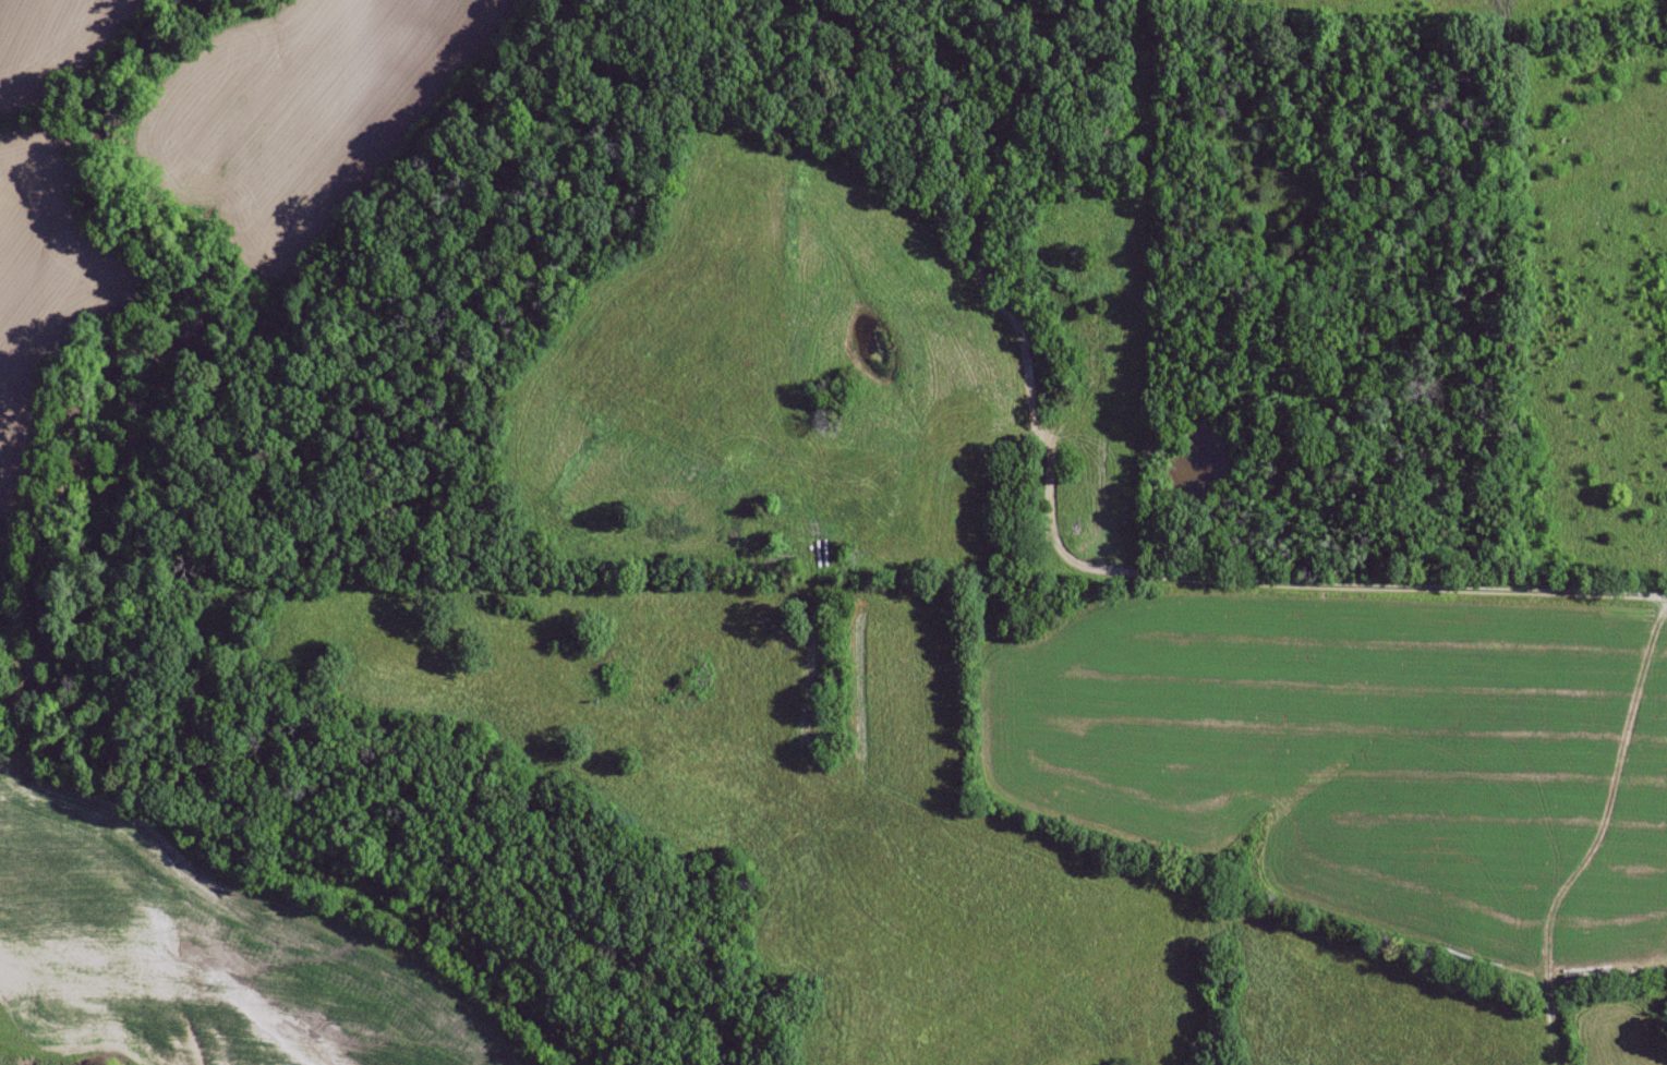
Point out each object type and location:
road: (1432, 589)

